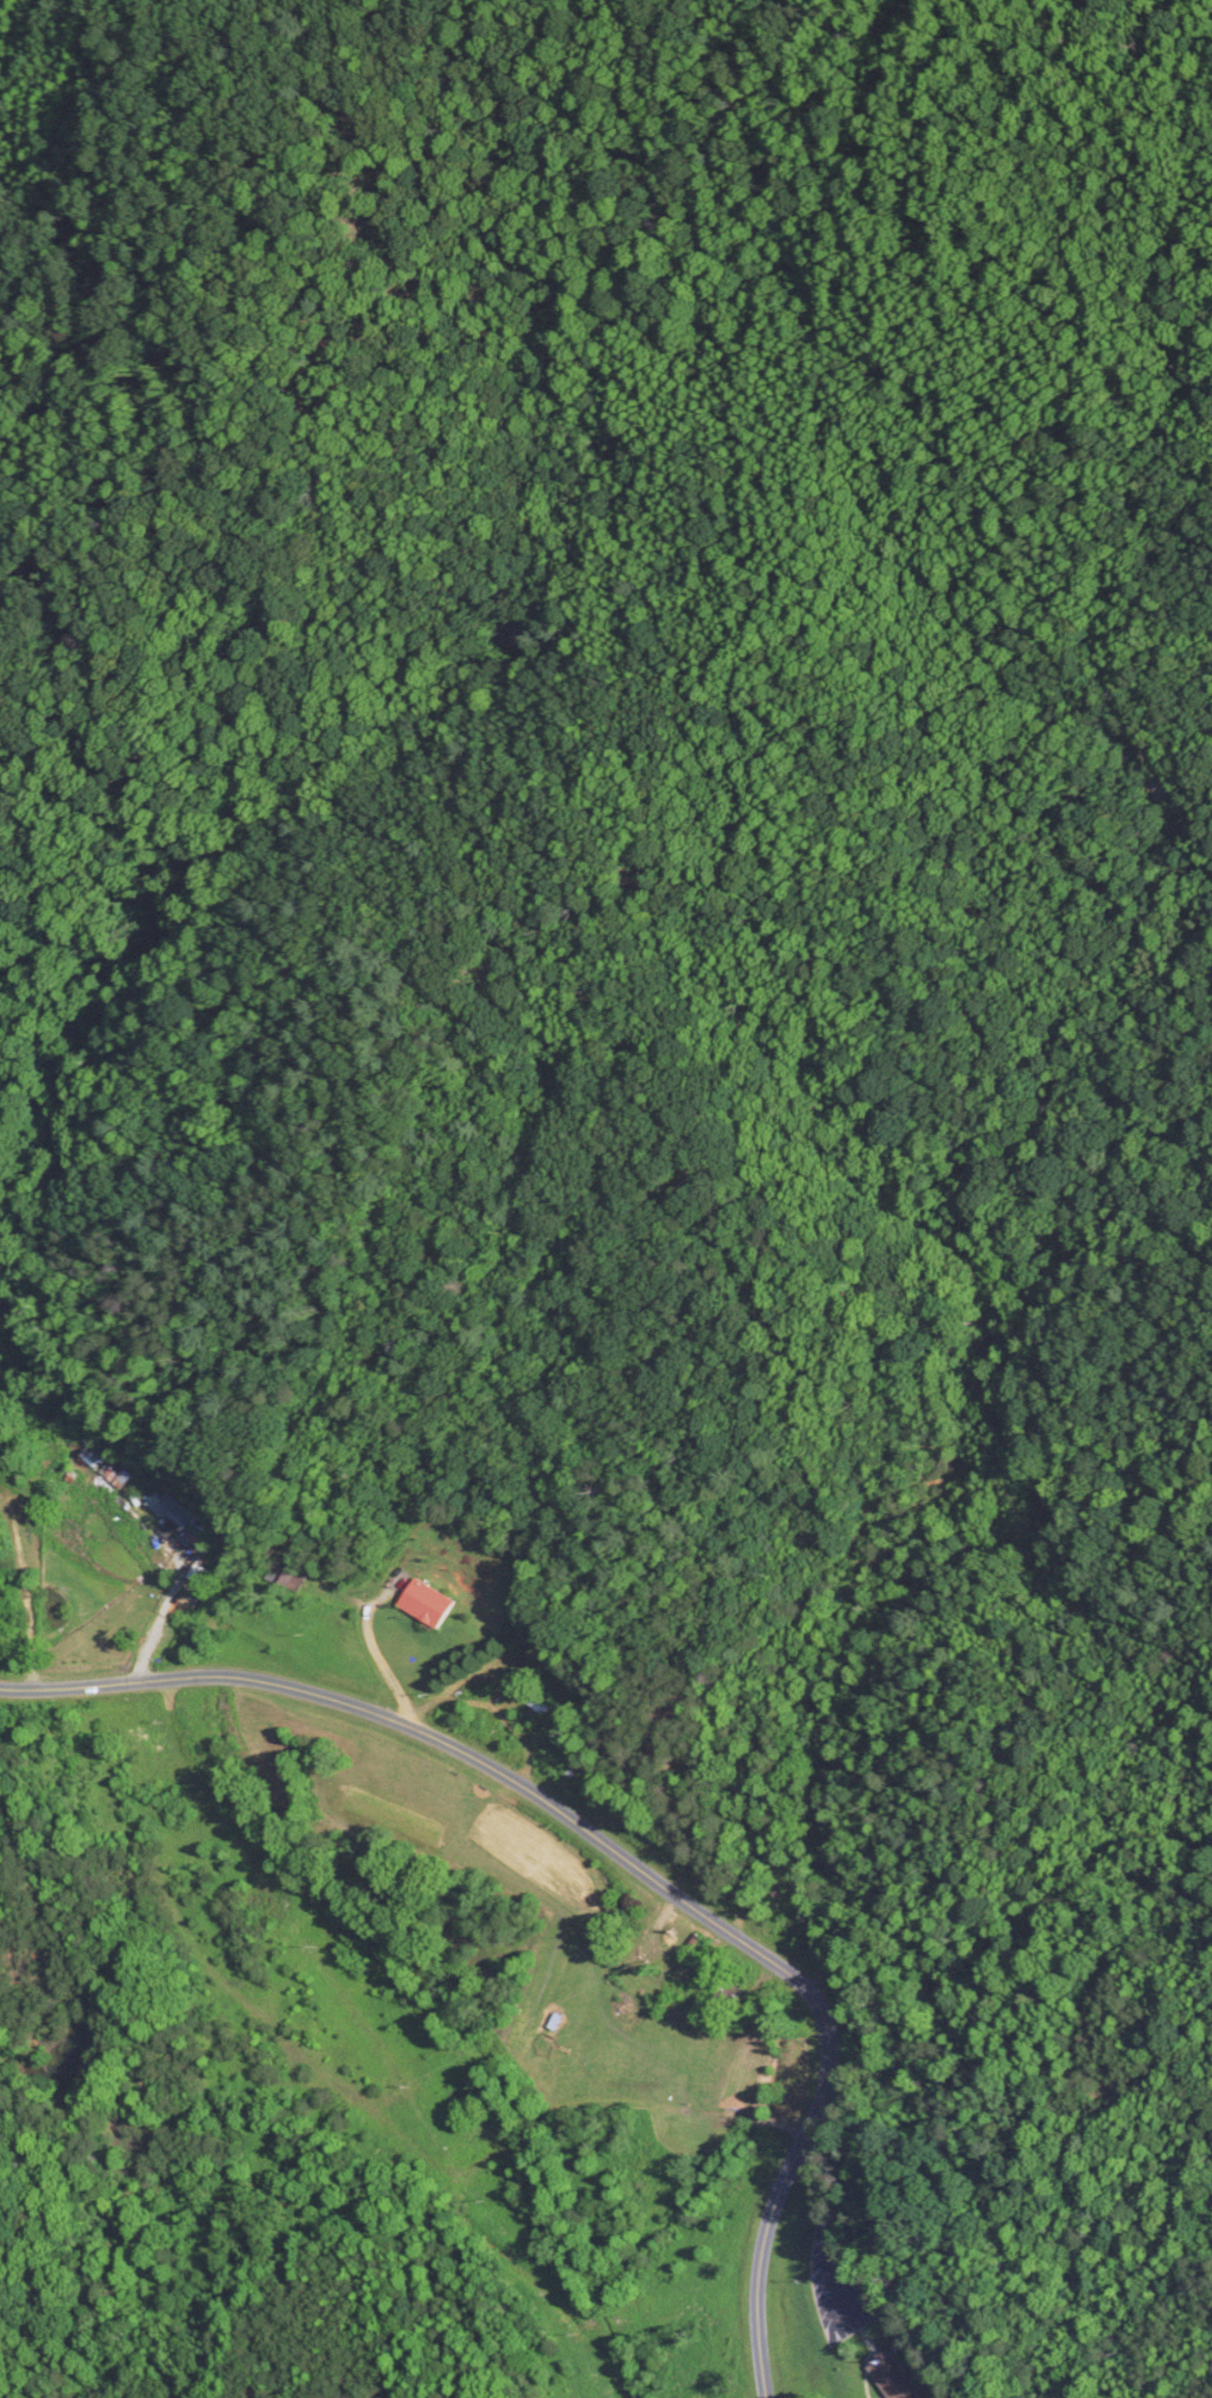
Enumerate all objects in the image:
building: (75, 1482)
building: (170, 1513)
building: (277, 1572)
road: (172, 1591)
building: (429, 1604)
road: (382, 1664)
building: (531, 1697)
road: (617, 1855)
building: (724, 1988)
road: (485, 2116)
road: (822, 2234)
building: (885, 2375)

